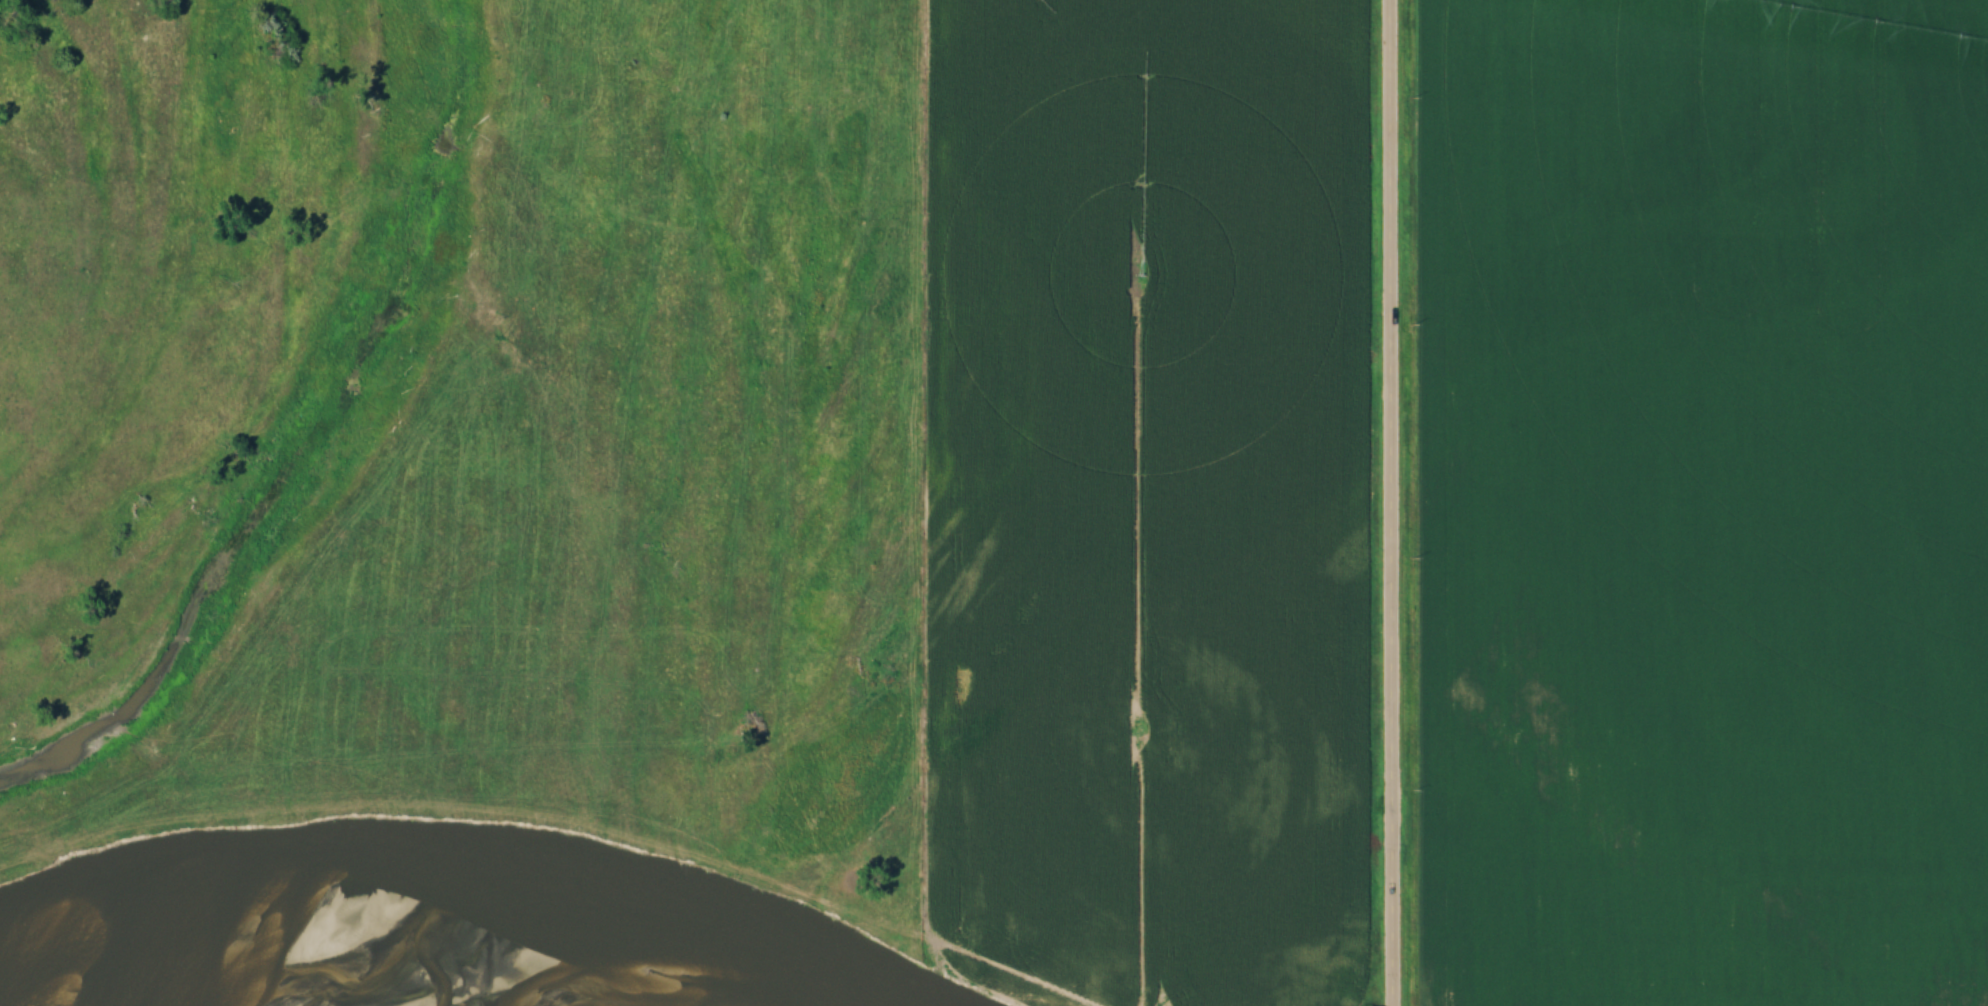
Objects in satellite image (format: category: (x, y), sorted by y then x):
road: (1392, 503)
river: (427, 988)

